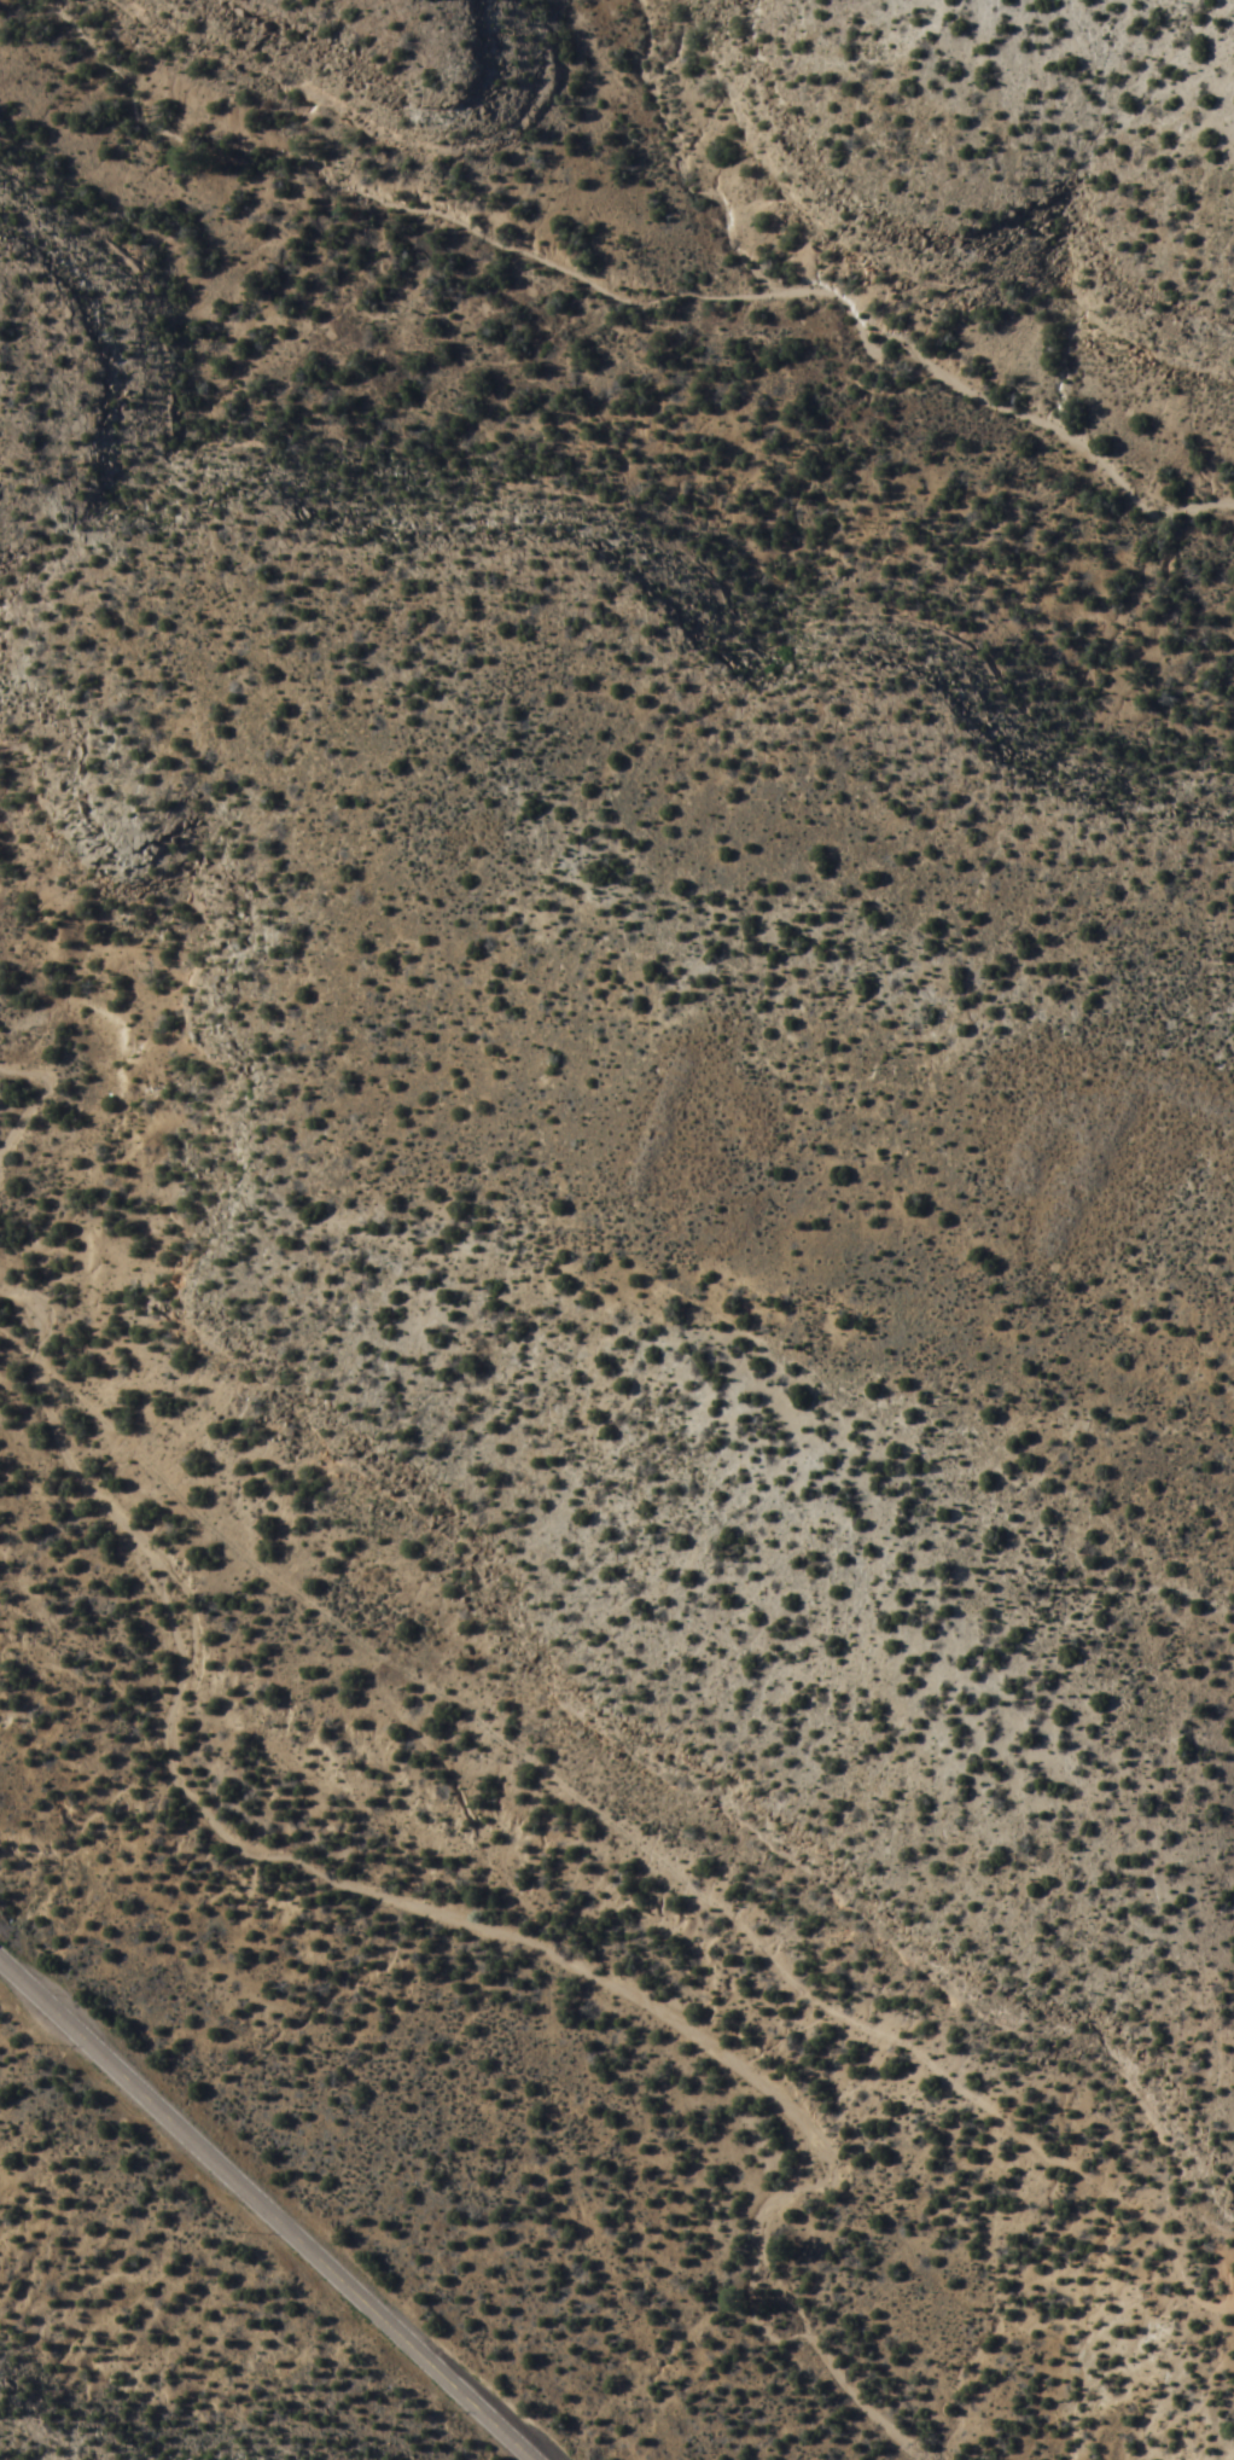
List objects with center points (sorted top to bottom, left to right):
road: (266, 2209)

